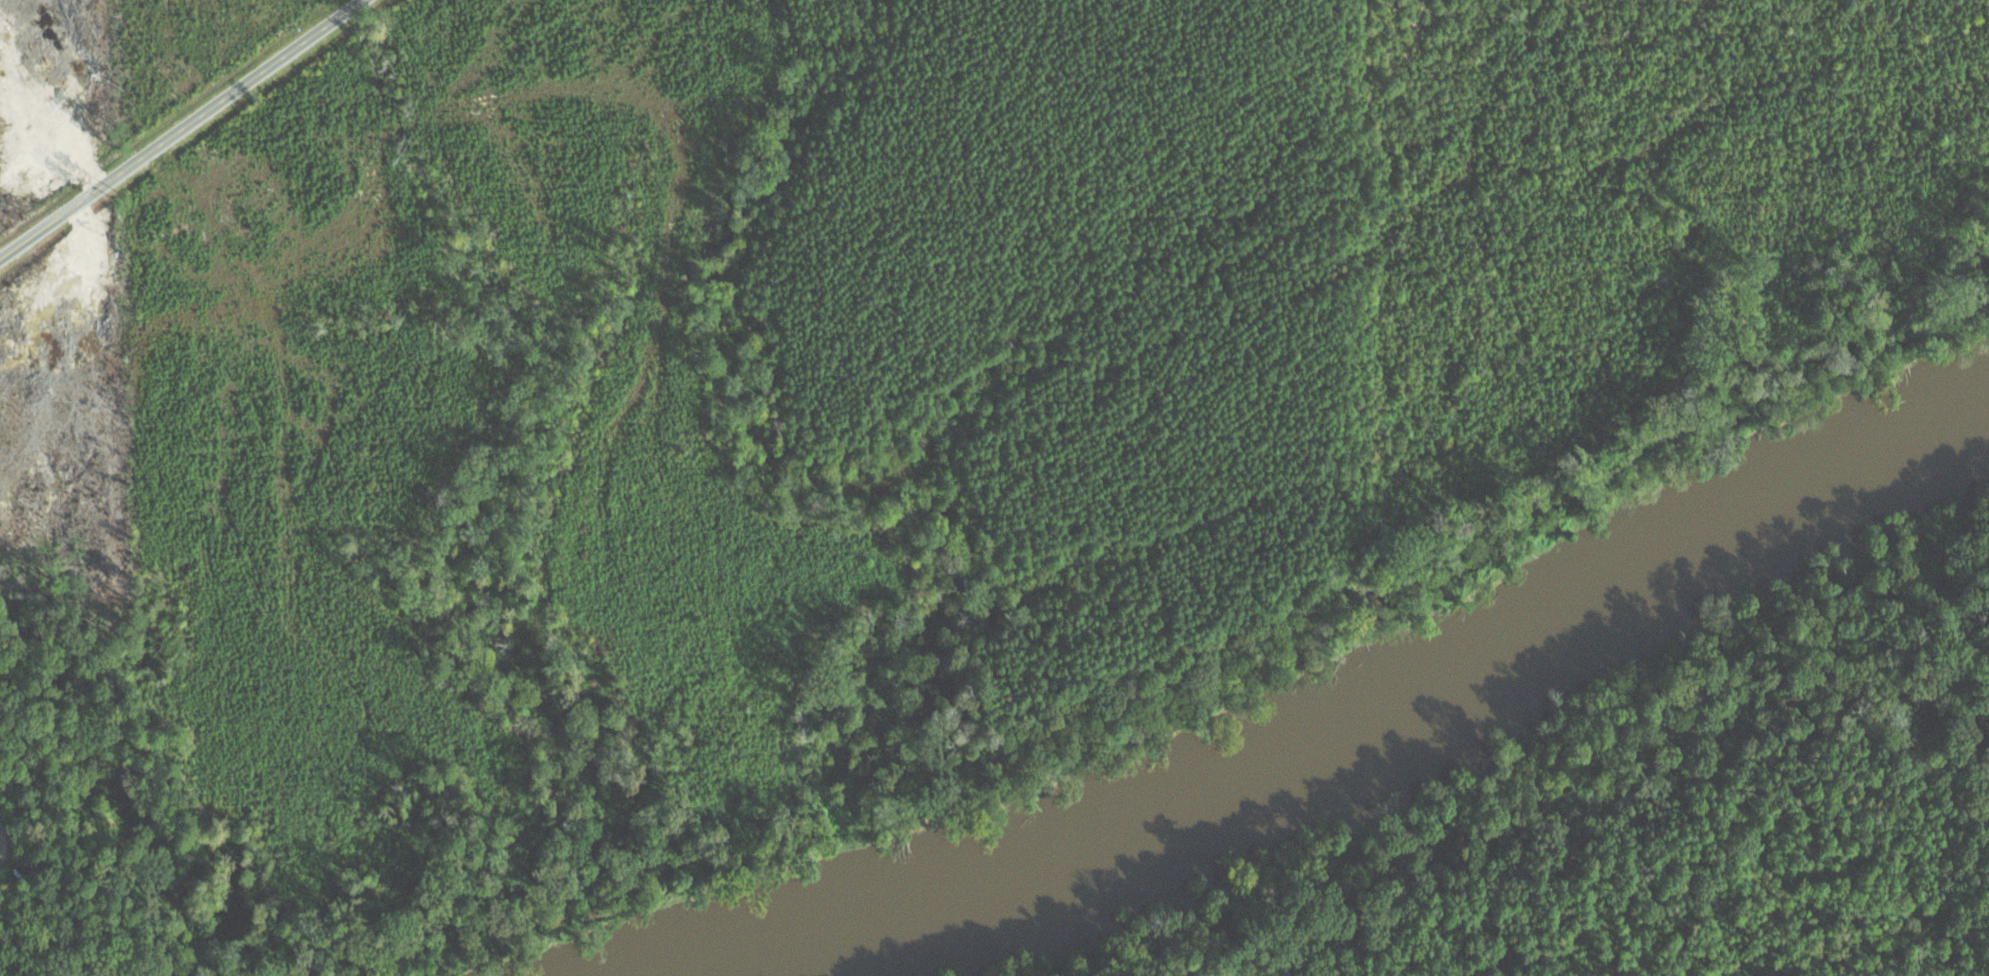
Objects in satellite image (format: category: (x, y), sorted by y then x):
road: (180, 130)
river: (1355, 734)

